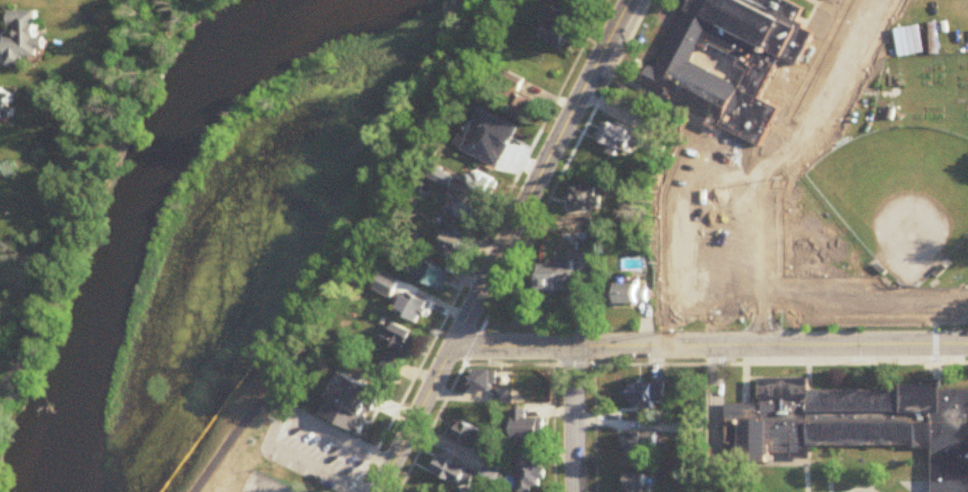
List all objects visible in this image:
building: (588, 0)
building: (561, 38)
building: (23, 40)
building: (737, 60)
road: (804, 82)
road: (822, 91)
building: (5, 104)
building: (527, 108)
building: (620, 140)
building: (499, 143)
building: (460, 145)
road: (99, 156)
parking lot: (733, 165)
building: (444, 177)
road: (552, 179)
building: (486, 184)
river: (146, 197)
park: (901, 197)
park: (837, 199)
building: (588, 200)
building: (470, 212)
road: (683, 227)
road: (502, 244)
road: (484, 246)
building: (455, 249)
road: (353, 250)
road: (763, 251)
building: (428, 274)
building: (560, 276)
park: (716, 277)
building: (388, 286)
building: (628, 296)
road: (865, 300)
building: (414, 309)
road: (16, 332)
road: (710, 341)
building: (397, 348)
road: (779, 360)
road: (456, 368)
building: (482, 381)
building: (649, 393)
road: (273, 410)
building: (356, 416)
road: (552, 416)
road: (574, 416)
road: (590, 416)
road: (277, 423)
building: (854, 425)
building: (527, 427)
building: (468, 434)
building: (640, 443)
road: (717, 443)
parking lot: (321, 451)
parking lot: (297, 470)
building: (453, 471)
building: (529, 473)
park: (218, 477)
road: (806, 478)
road: (829, 480)
road: (872, 480)
building: (635, 485)
road: (860, 491)

